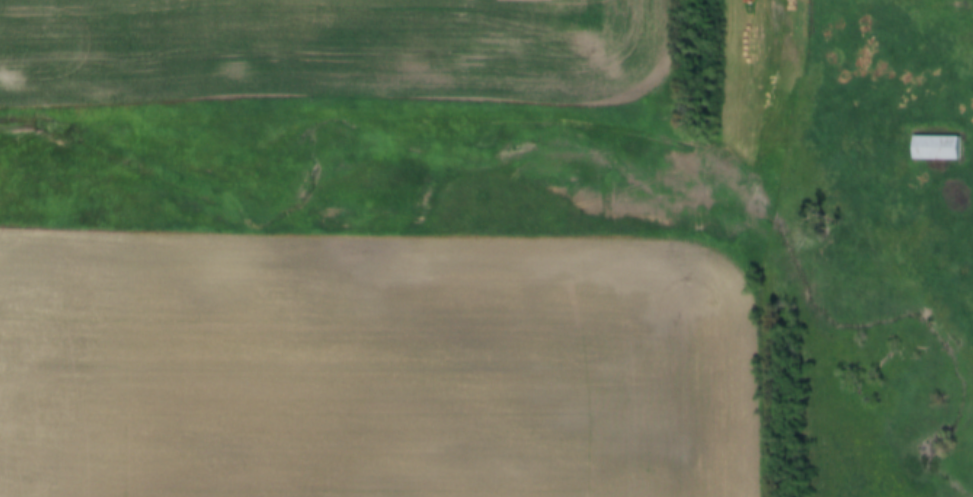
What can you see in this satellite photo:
building: (932, 146)

